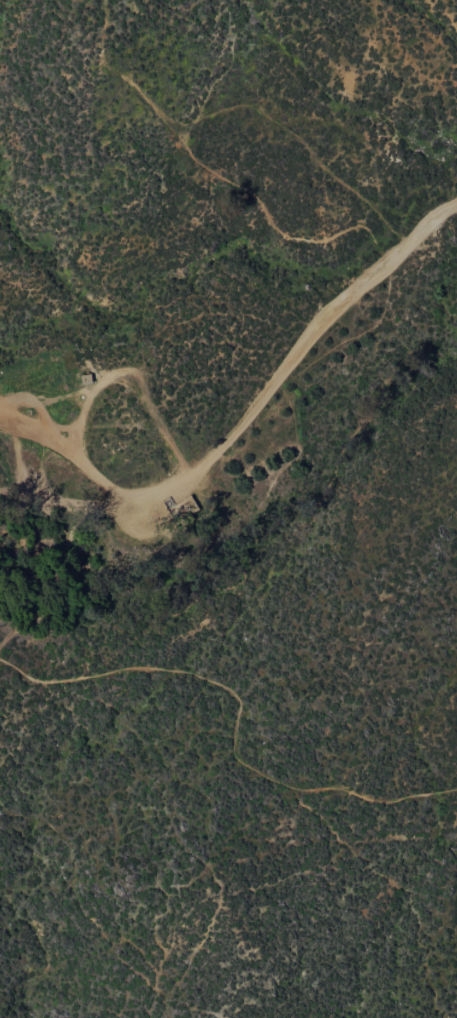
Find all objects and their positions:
road: (301, 355)
road: (68, 457)
road: (70, 507)
road: (236, 720)

